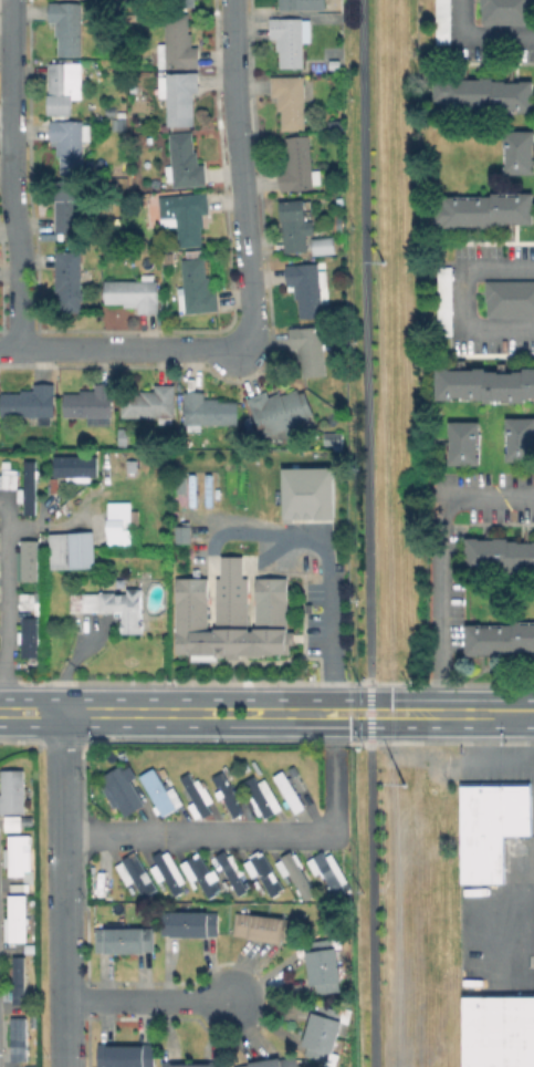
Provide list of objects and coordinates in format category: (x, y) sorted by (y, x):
building: (185, 2)
building: (305, 4)
building: (507, 11)
building: (443, 21)
building: (67, 25)
building: (292, 38)
road: (480, 39)
building: (178, 42)
building: (64, 85)
building: (486, 93)
building: (181, 96)
building: (291, 101)
building: (117, 116)
building: (71, 143)
building: (520, 152)
building: (186, 162)
building: (299, 165)
road: (10, 174)
road: (241, 180)
building: (70, 206)
building: (486, 209)
building: (186, 216)
building: (341, 221)
building: (295, 225)
building: (323, 244)
building: (70, 280)
building: (198, 288)
building: (311, 290)
building: (136, 292)
road: (462, 297)
building: (511, 298)
building: (446, 300)
road: (366, 341)
building: (313, 346)
road: (121, 351)
building: (485, 384)
building: (31, 403)
building: (91, 403)
building: (151, 403)
building: (209, 410)
building: (282, 412)
building: (121, 436)
building: (521, 438)
building: (206, 443)
building: (463, 444)
building: (182, 463)
building: (133, 466)
building: (74, 468)
building: (23, 484)
building: (306, 493)
building: (122, 522)
building: (180, 533)
building: (73, 549)
building: (501, 555)
road: (434, 556)
building: (30, 560)
road: (325, 570)
building: (31, 601)
road: (11, 604)
building: (130, 605)
building: (234, 622)
building: (30, 636)
building: (501, 639)
road: (310, 700)
road: (370, 709)
road: (92, 712)
road: (484, 713)
road: (310, 726)
road: (506, 754)
building: (10, 790)
building: (122, 790)
building: (160, 793)
building: (227, 794)
building: (289, 794)
building: (262, 795)
building: (197, 796)
building: (491, 827)
road: (249, 833)
building: (17, 853)
building: (168, 869)
building: (232, 870)
building: (266, 872)
building: (332, 872)
building: (136, 873)
building: (299, 873)
building: (203, 874)
road: (63, 889)
road: (373, 903)
building: (14, 918)
building: (190, 923)
building: (268, 926)
building: (125, 939)
building: (324, 964)
building: (15, 978)
road: (148, 998)
building: (498, 1032)
building: (323, 1034)
building: (15, 1038)
building: (126, 1055)
building: (273, 1063)
building: (191, 1064)

